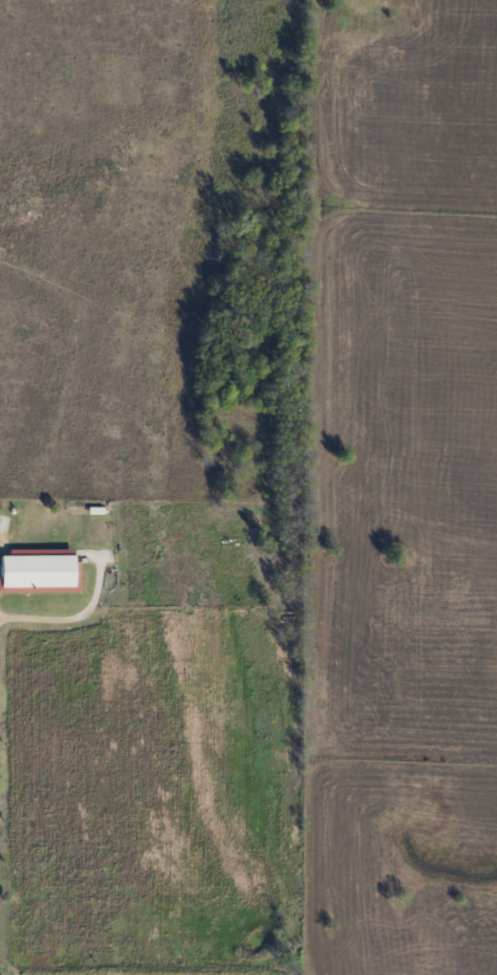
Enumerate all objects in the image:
building: (35, 570)

